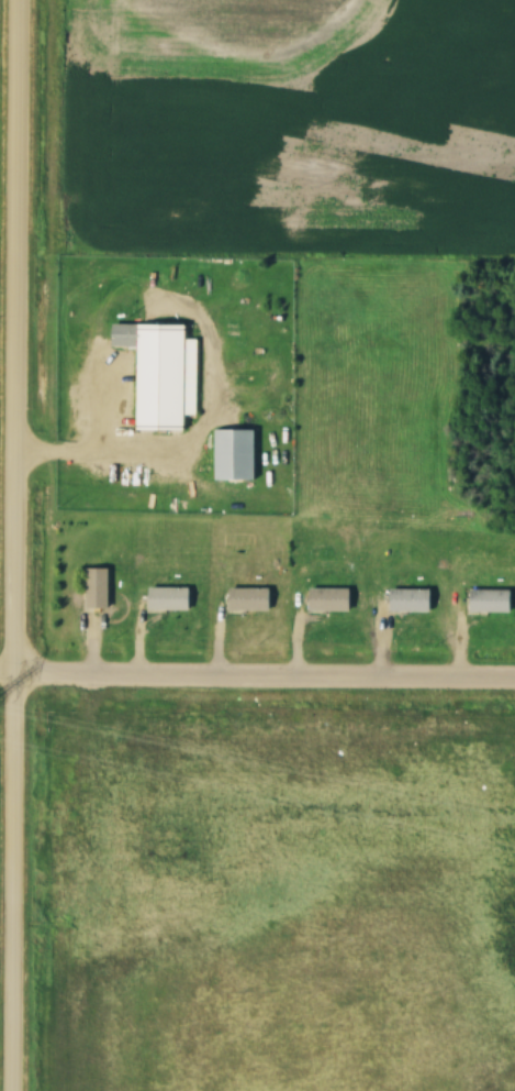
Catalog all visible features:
building: (163, 374)
building: (236, 455)
road: (18, 545)
building: (99, 588)
building: (171, 599)
building: (253, 599)
building: (332, 599)
building: (412, 600)
building: (492, 600)
road: (257, 681)

